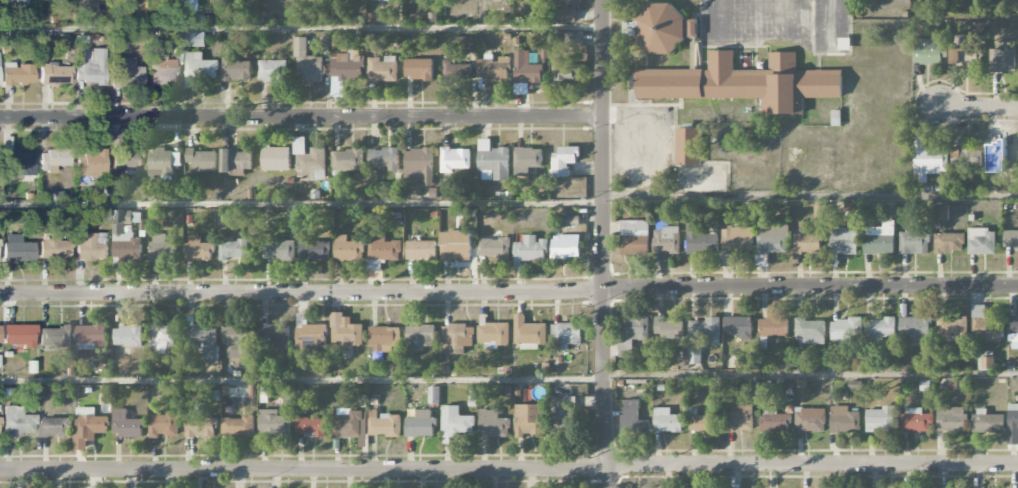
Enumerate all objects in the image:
building: (378, 0)
building: (16, 2)
building: (567, 2)
building: (566, 14)
road: (720, 17)
road: (758, 17)
road: (831, 24)
road: (301, 26)
building: (660, 28)
building: (195, 39)
building: (574, 39)
building: (467, 43)
building: (960, 48)
building: (928, 52)
building: (1002, 60)
building: (307, 65)
building: (346, 66)
building: (91, 67)
building: (198, 69)
building: (418, 69)
building: (455, 69)
building: (235, 70)
building: (382, 70)
building: (494, 70)
building: (272, 71)
building: (127, 72)
building: (163, 72)
building: (566, 72)
building: (525, 73)
building: (18, 74)
building: (55, 74)
building: (743, 83)
road: (977, 108)
road: (302, 117)
building: (688, 146)
building: (1002, 153)
building: (966, 157)
building: (127, 158)
building: (384, 158)
building: (53, 159)
building: (275, 159)
building: (455, 159)
building: (202, 160)
building: (310, 160)
building: (347, 160)
building: (527, 160)
building: (564, 160)
building: (236, 162)
building: (493, 162)
building: (930, 163)
building: (91, 164)
building: (419, 165)
building: (993, 182)
road: (810, 195)
road: (301, 203)
building: (939, 212)
building: (571, 220)
building: (125, 237)
building: (634, 237)
building: (773, 239)
building: (879, 239)
building: (1010, 239)
building: (666, 240)
building: (701, 240)
building: (738, 240)
building: (843, 241)
building: (981, 241)
building: (914, 243)
building: (949, 243)
road: (603, 244)
building: (807, 244)
building: (91, 246)
building: (456, 246)
building: (565, 246)
building: (161, 247)
building: (54, 248)
building: (383, 248)
building: (494, 248)
building: (198, 249)
building: (233, 249)
building: (313, 249)
building: (348, 249)
building: (531, 249)
building: (278, 250)
building: (421, 250)
building: (18, 251)
road: (509, 292)
building: (984, 326)
building: (738, 327)
building: (774, 327)
building: (951, 327)
building: (672, 328)
building: (707, 329)
building: (915, 329)
building: (1013, 329)
building: (635, 330)
building: (846, 330)
building: (882, 330)
building: (345, 332)
building: (809, 332)
building: (528, 333)
building: (310, 334)
building: (494, 334)
building: (19, 335)
building: (55, 335)
building: (275, 335)
building: (565, 335)
building: (420, 336)
building: (90, 337)
building: (127, 337)
building: (385, 337)
building: (458, 337)
building: (163, 338)
building: (204, 340)
building: (235, 340)
building: (695, 356)
building: (987, 363)
road: (811, 375)
road: (301, 379)
building: (233, 391)
building: (563, 414)
building: (738, 415)
building: (633, 418)
building: (880, 419)
building: (951, 419)
building: (528, 420)
building: (667, 420)
building: (810, 420)
building: (844, 420)
building: (774, 421)
building: (916, 421)
building: (987, 421)
building: (17, 422)
building: (702, 422)
building: (274, 423)
building: (346, 423)
building: (456, 423)
building: (383, 424)
building: (492, 424)
building: (1012, 424)
building: (126, 425)
building: (164, 425)
building: (420, 425)
building: (311, 426)
building: (55, 427)
building: (88, 427)
building: (200, 427)
building: (238, 427)
road: (509, 469)
building: (95, 487)

